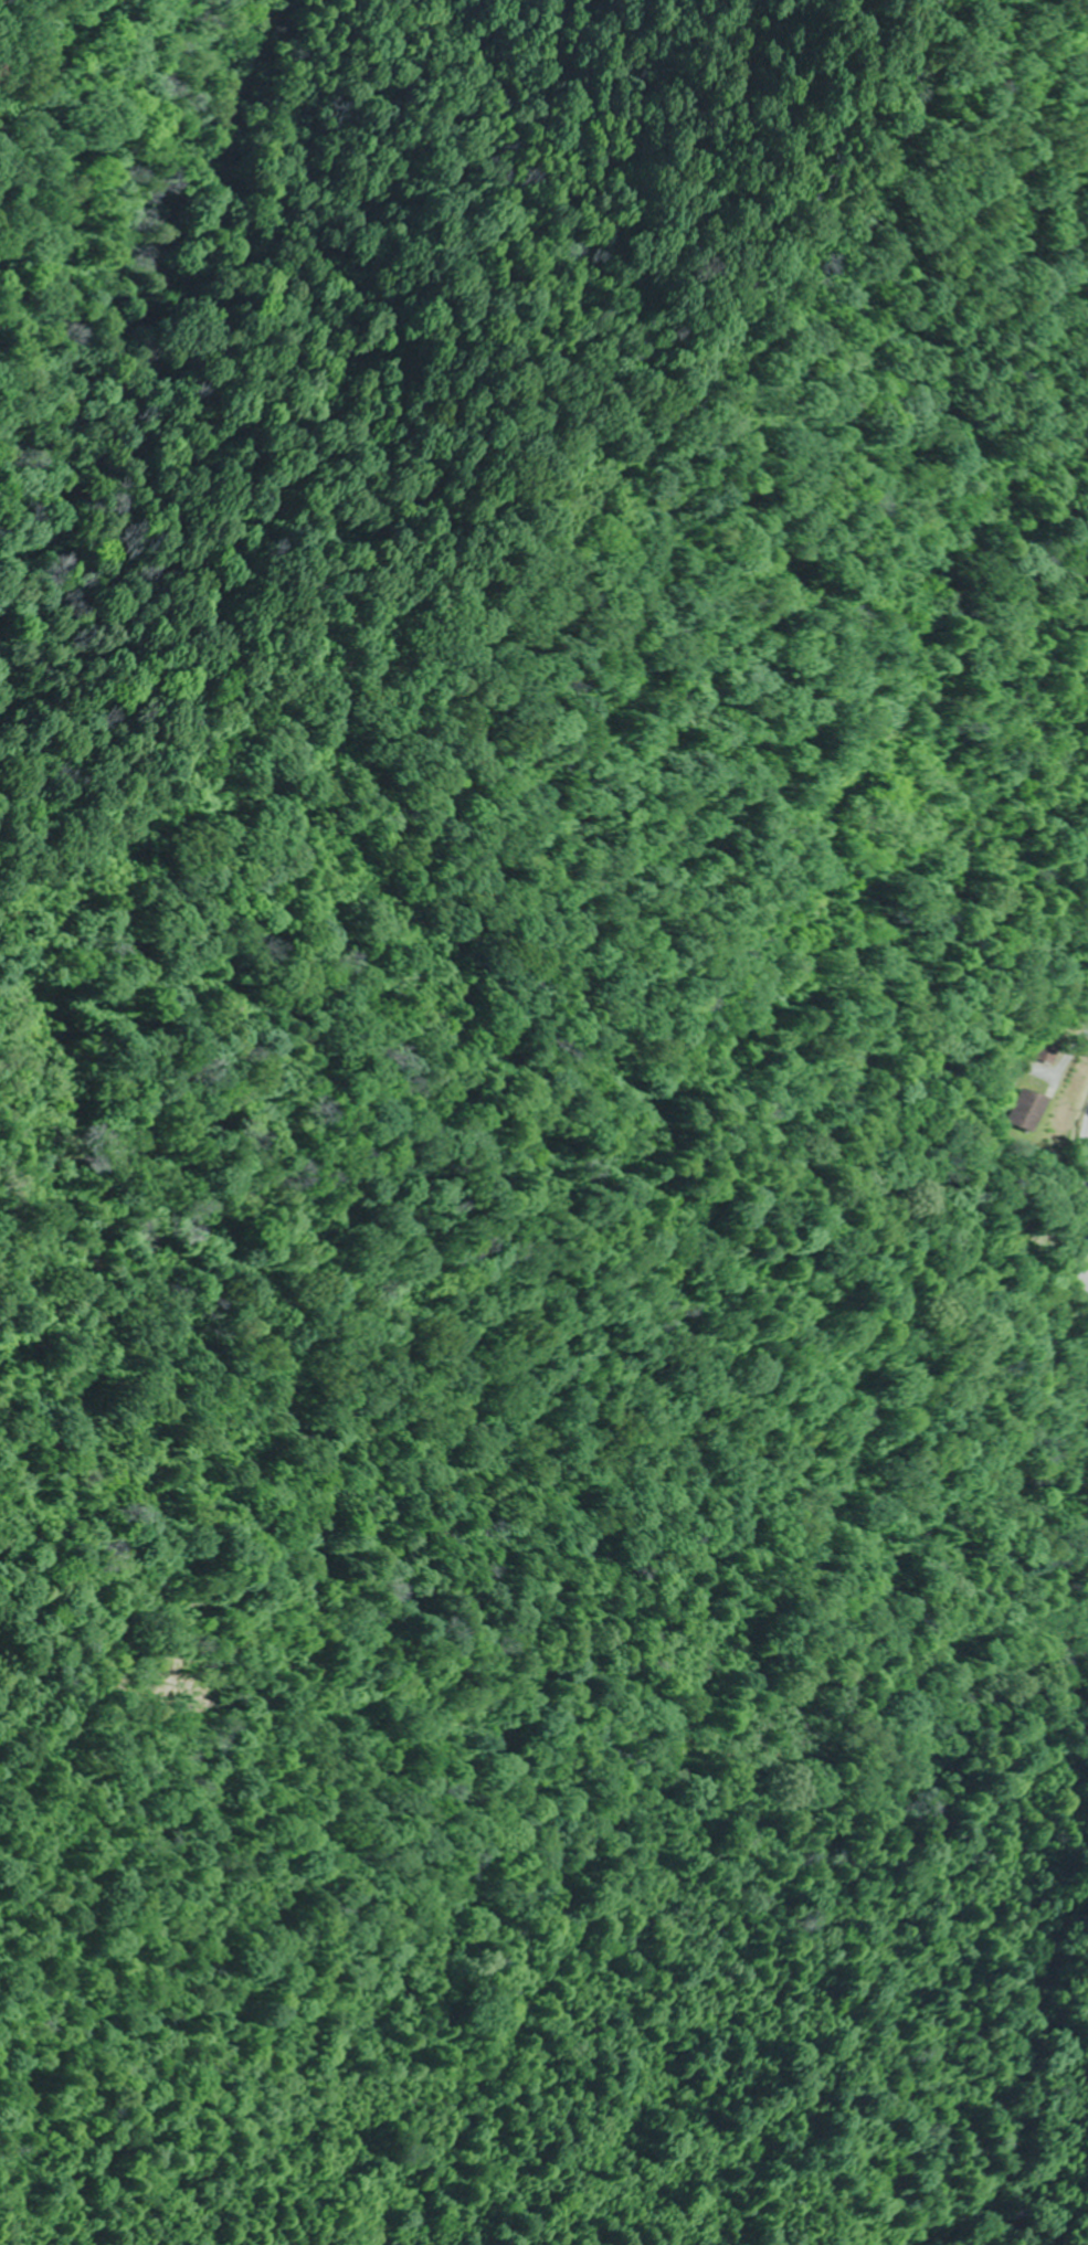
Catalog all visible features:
building: (1060, 1050)
building: (1038, 1110)

